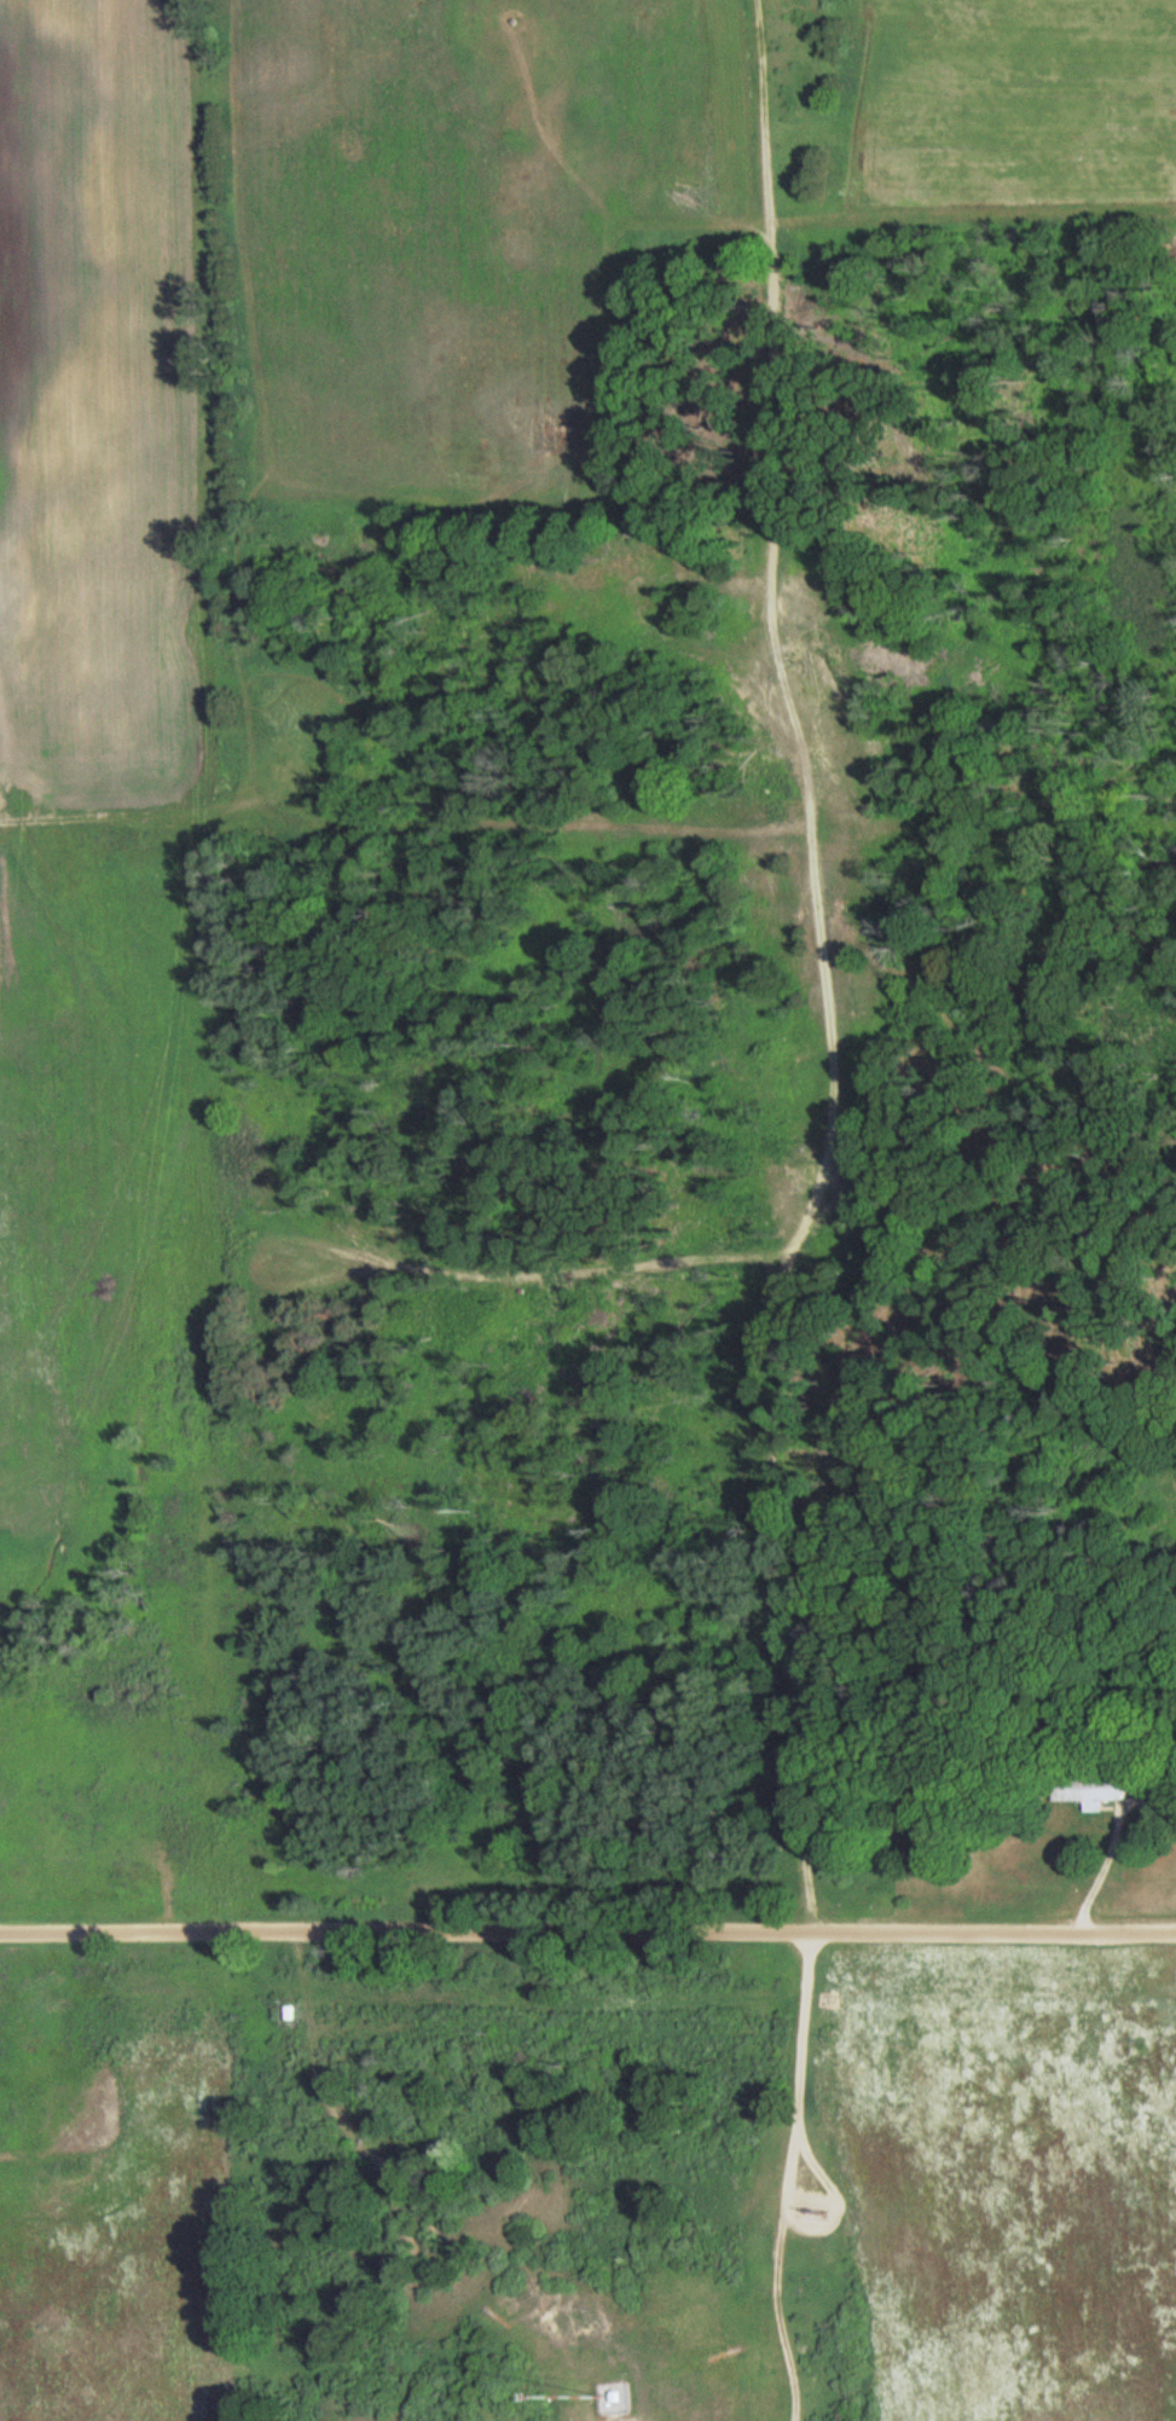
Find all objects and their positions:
road: (971, 213)
road: (99, 841)
building: (813, 998)
petroleum well: (803, 1177)
road: (812, 1209)
road: (598, 1287)
road: (1112, 1836)
road: (587, 1934)
building: (289, 2017)
petroleum well: (816, 2207)
building: (607, 2397)

